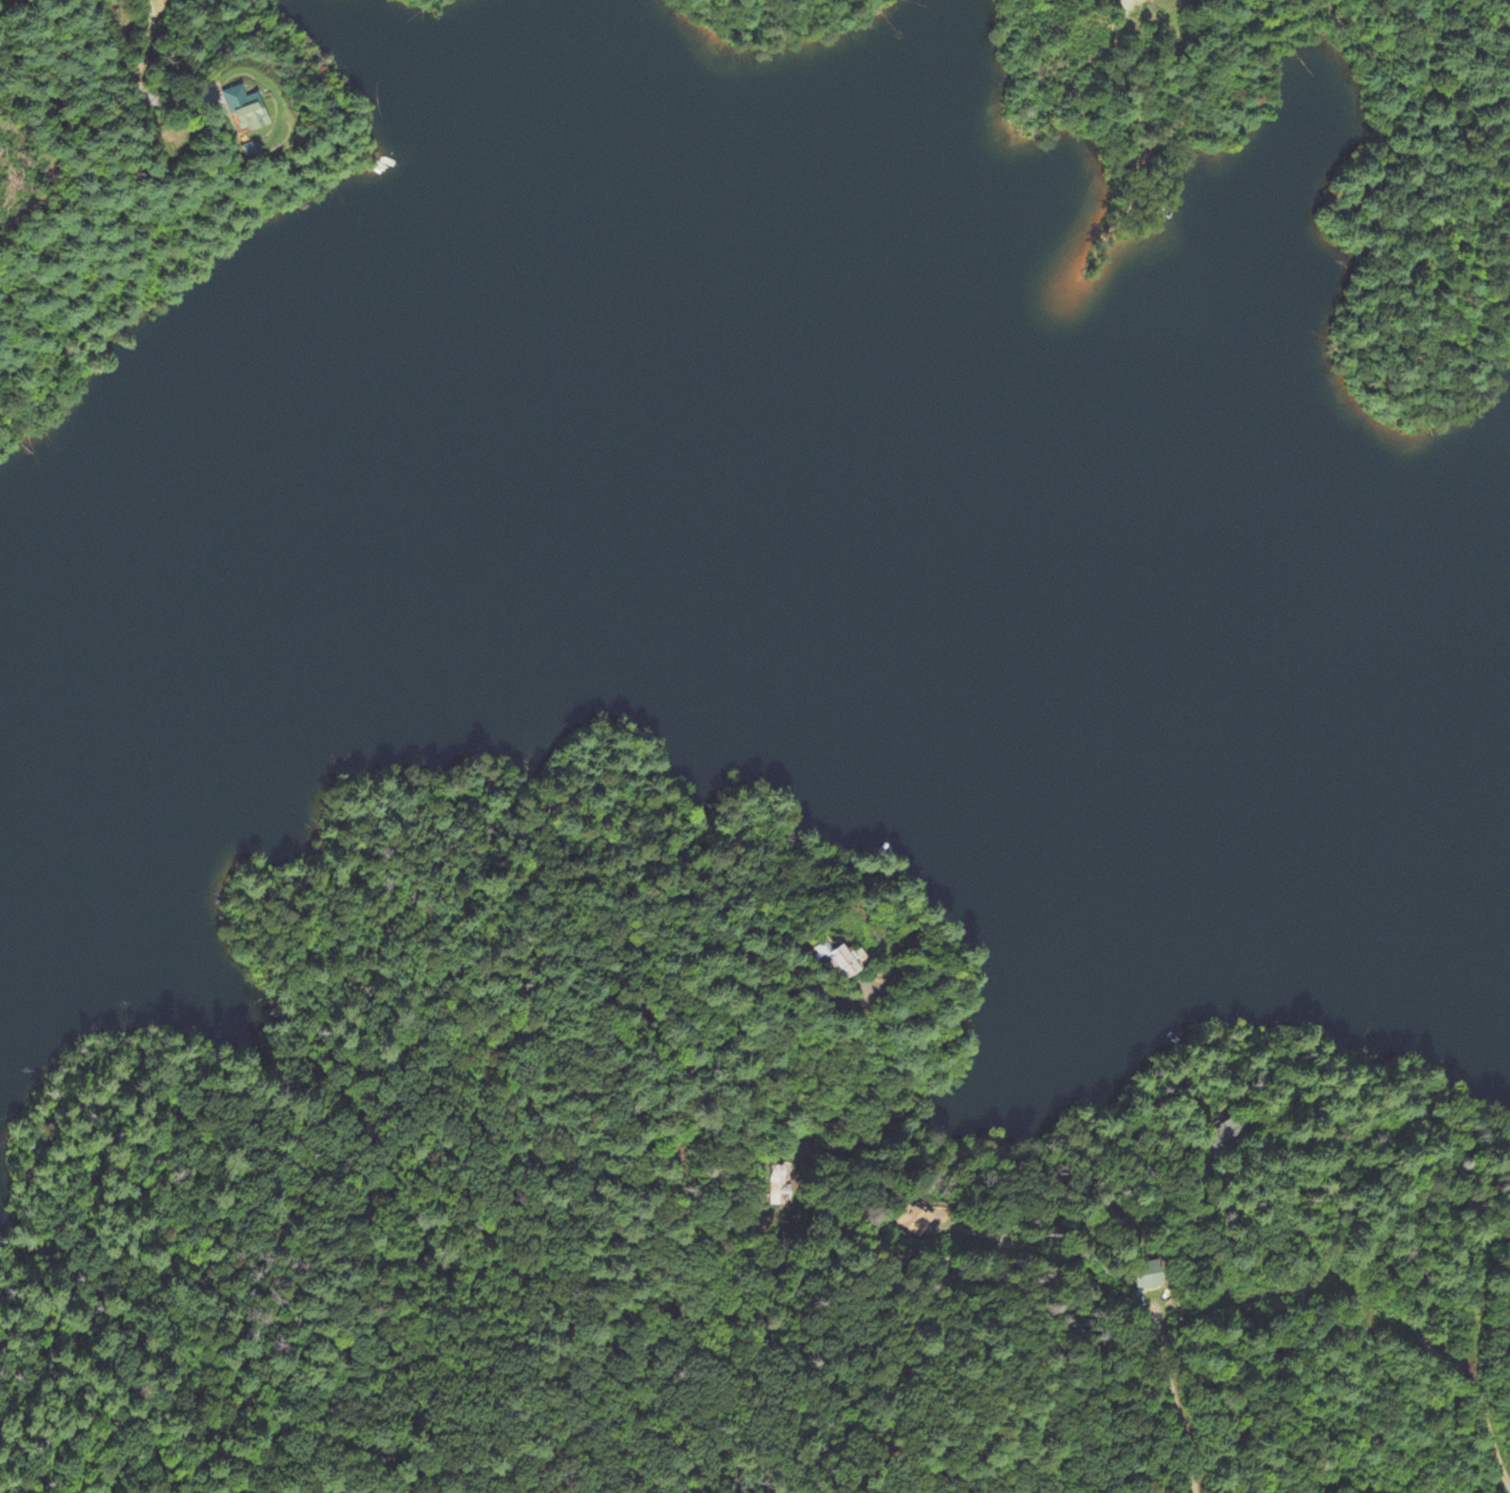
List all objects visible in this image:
building: (245, 108)
river: (750, 438)
building: (841, 961)
building: (1145, 1275)
road: (1392, 1306)

